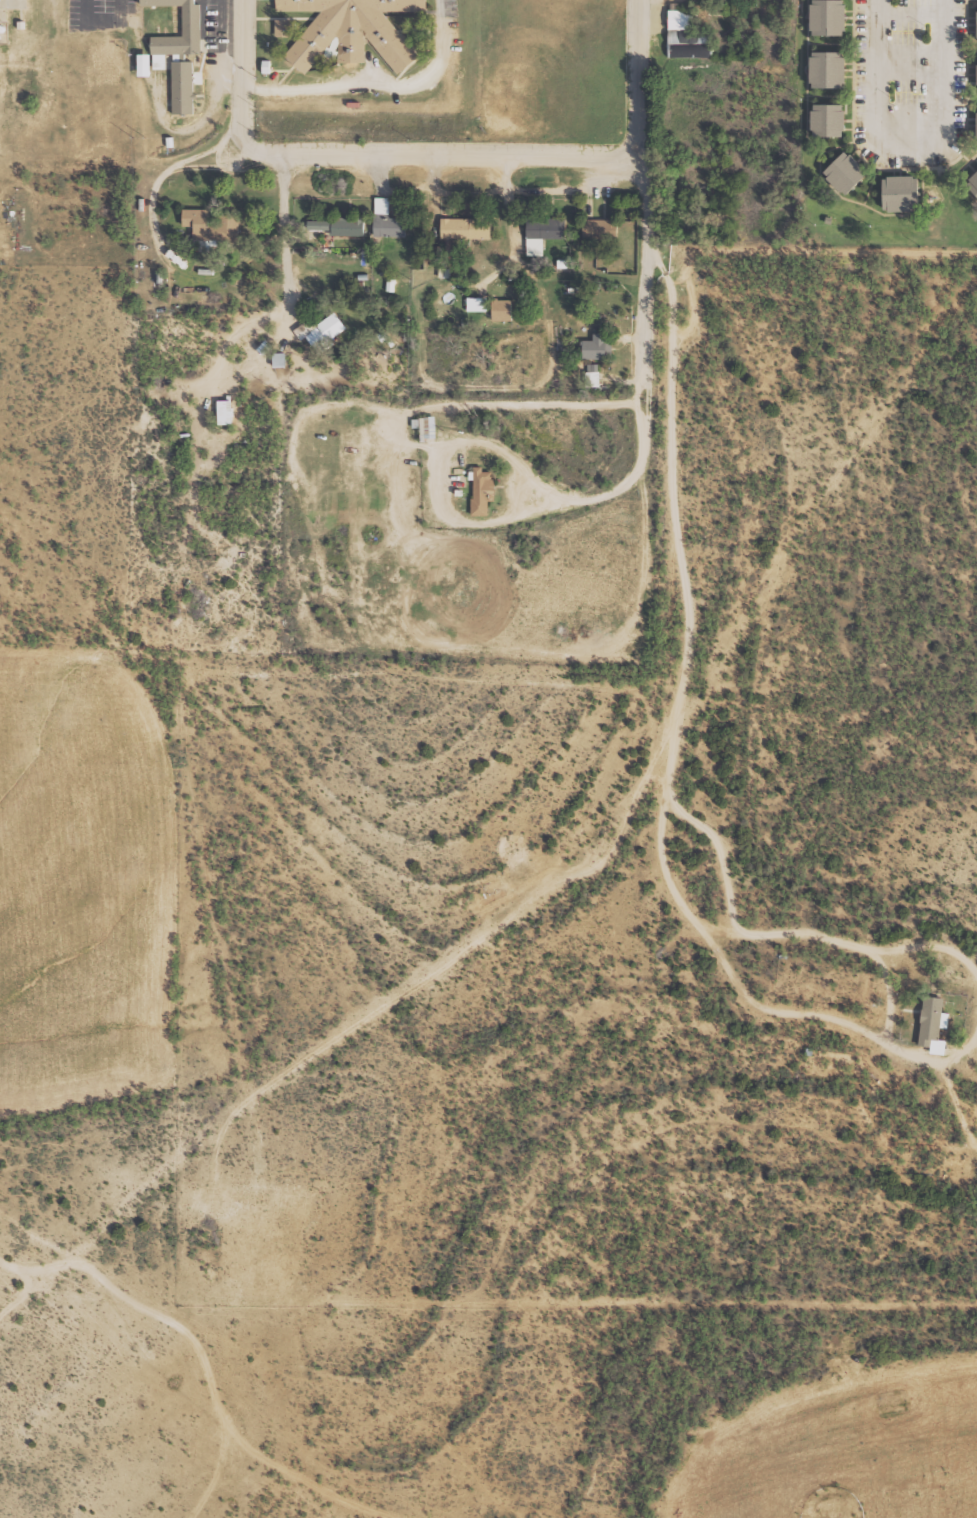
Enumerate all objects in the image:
building: (834, 17)
building: (191, 20)
building: (282, 27)
building: (351, 31)
building: (688, 36)
building: (159, 61)
building: (144, 64)
building: (834, 69)
road: (247, 73)
building: (182, 86)
building: (834, 120)
road: (445, 153)
building: (852, 173)
building: (975, 182)
building: (909, 193)
building: (387, 219)
building: (213, 226)
building: (339, 226)
building: (466, 228)
building: (543, 232)
building: (476, 303)
building: (502, 309)
building: (322, 331)
building: (598, 346)
building: (592, 375)
building: (225, 411)
building: (426, 427)
road: (670, 450)
building: (482, 490)
building: (933, 1024)

